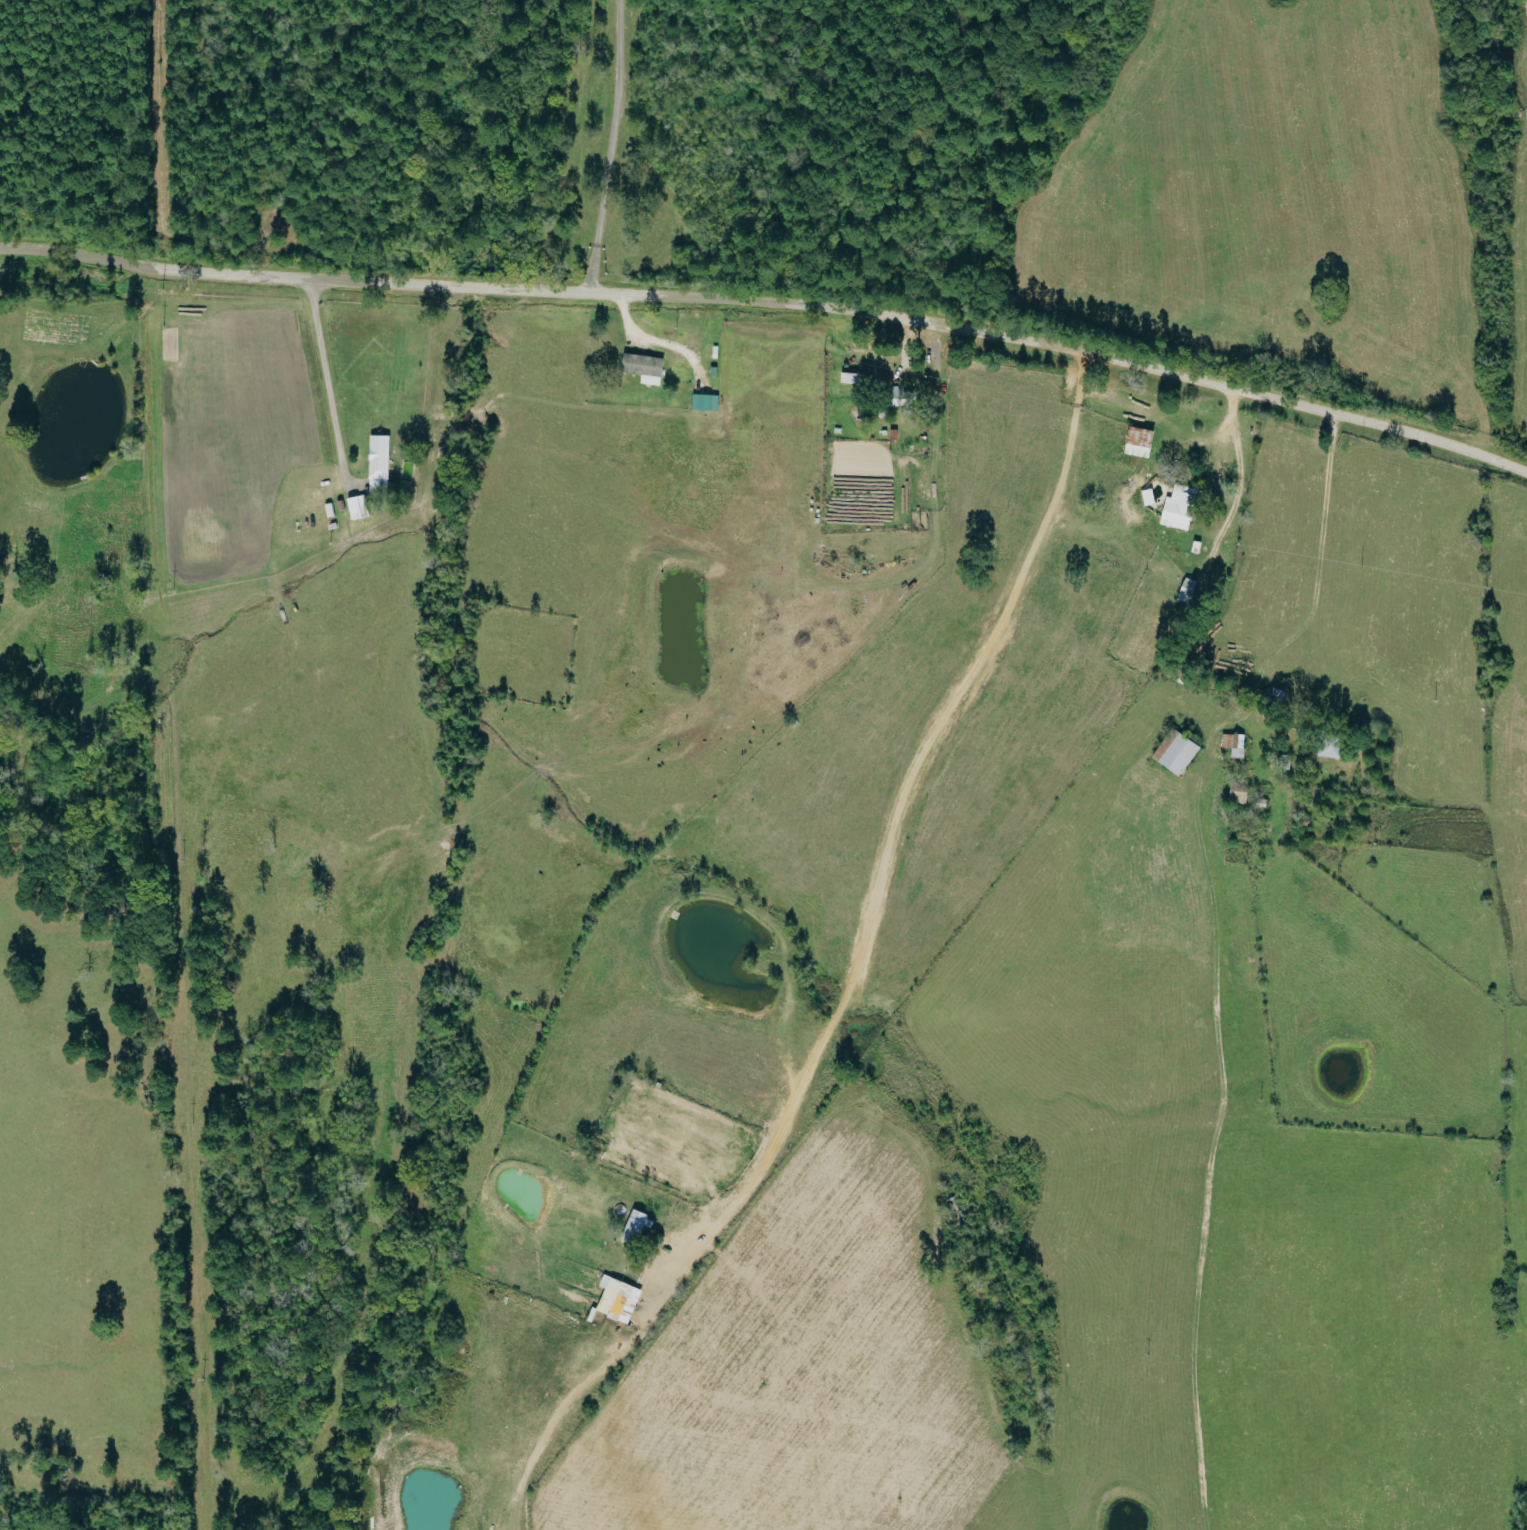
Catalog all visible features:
road: (607, 147)
road: (772, 304)
building: (646, 368)
building: (855, 377)
road: (325, 381)
building: (901, 396)
building: (707, 403)
road: (1222, 430)
building: (1142, 443)
building: (381, 463)
road: (1240, 490)
building: (360, 508)
building: (1181, 508)
road: (1318, 540)
road: (1291, 638)
building: (1237, 744)
building: (1179, 752)
building: (1241, 791)
building: (637, 1227)
building: (616, 1297)

